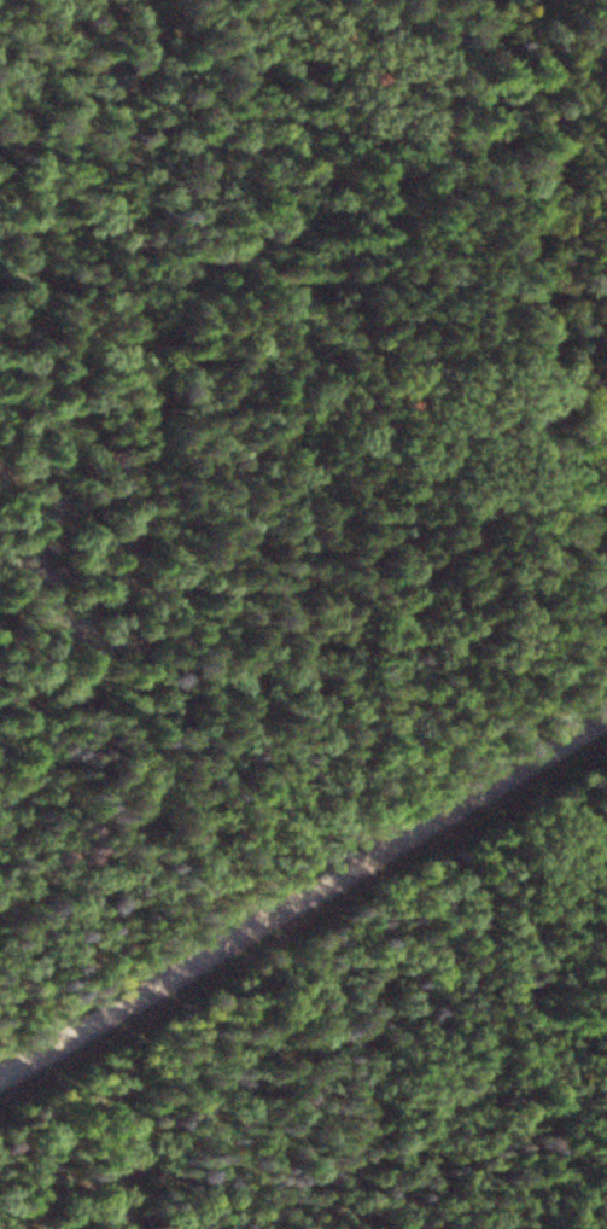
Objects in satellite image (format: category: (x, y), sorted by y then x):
road: (300, 897)

